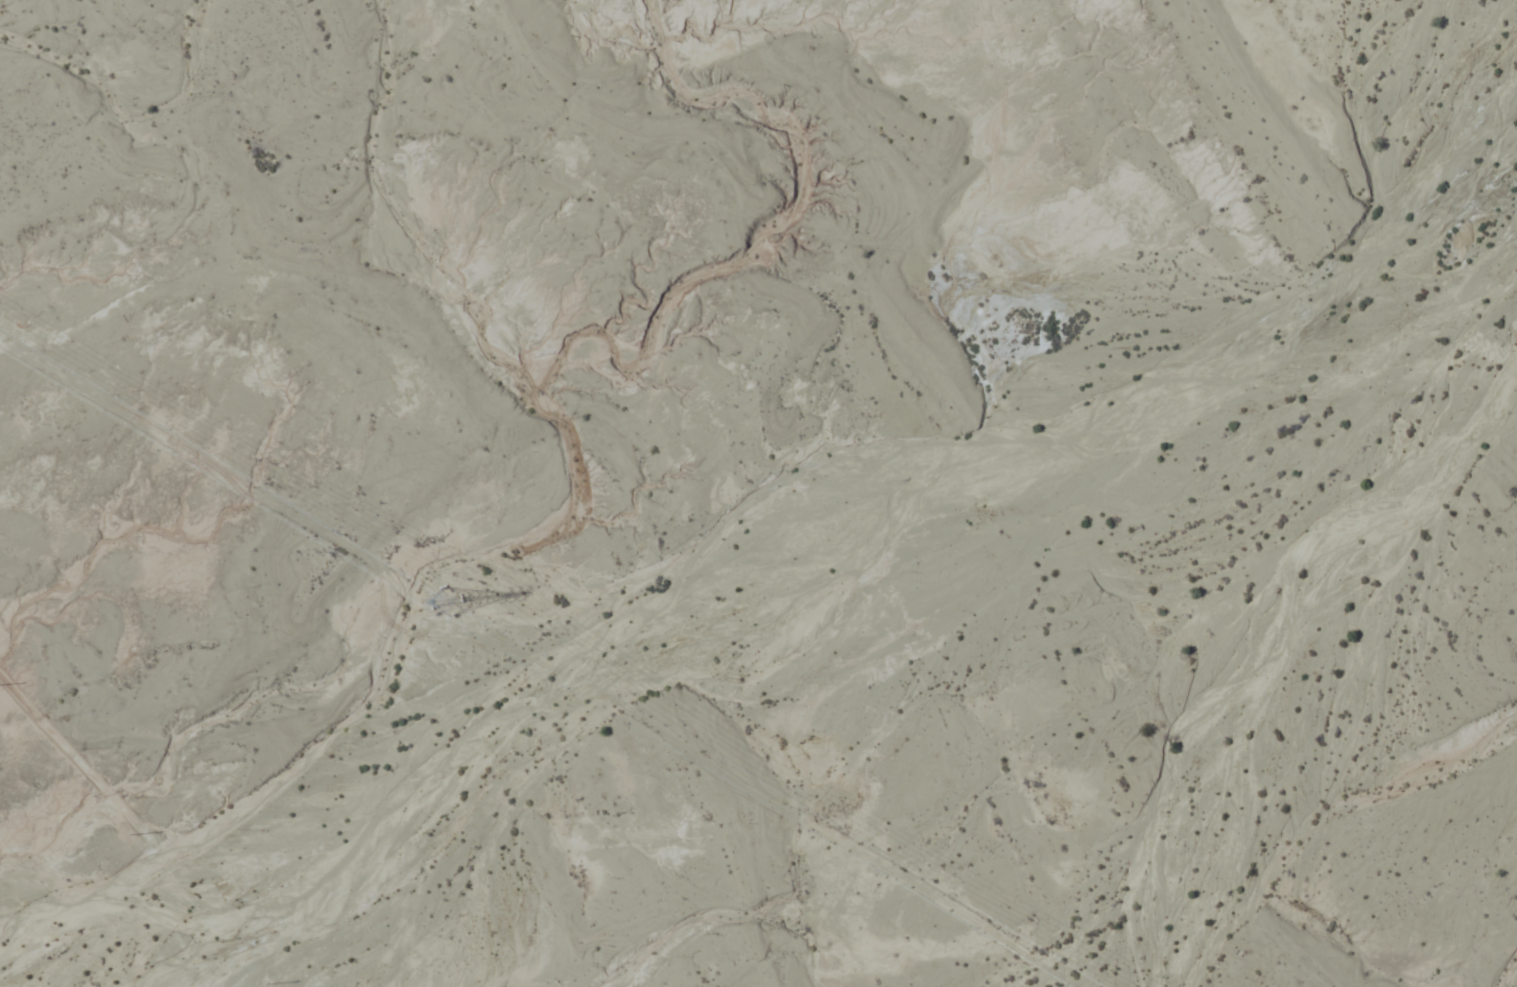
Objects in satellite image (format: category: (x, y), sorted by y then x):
power tower: (458, 601)

